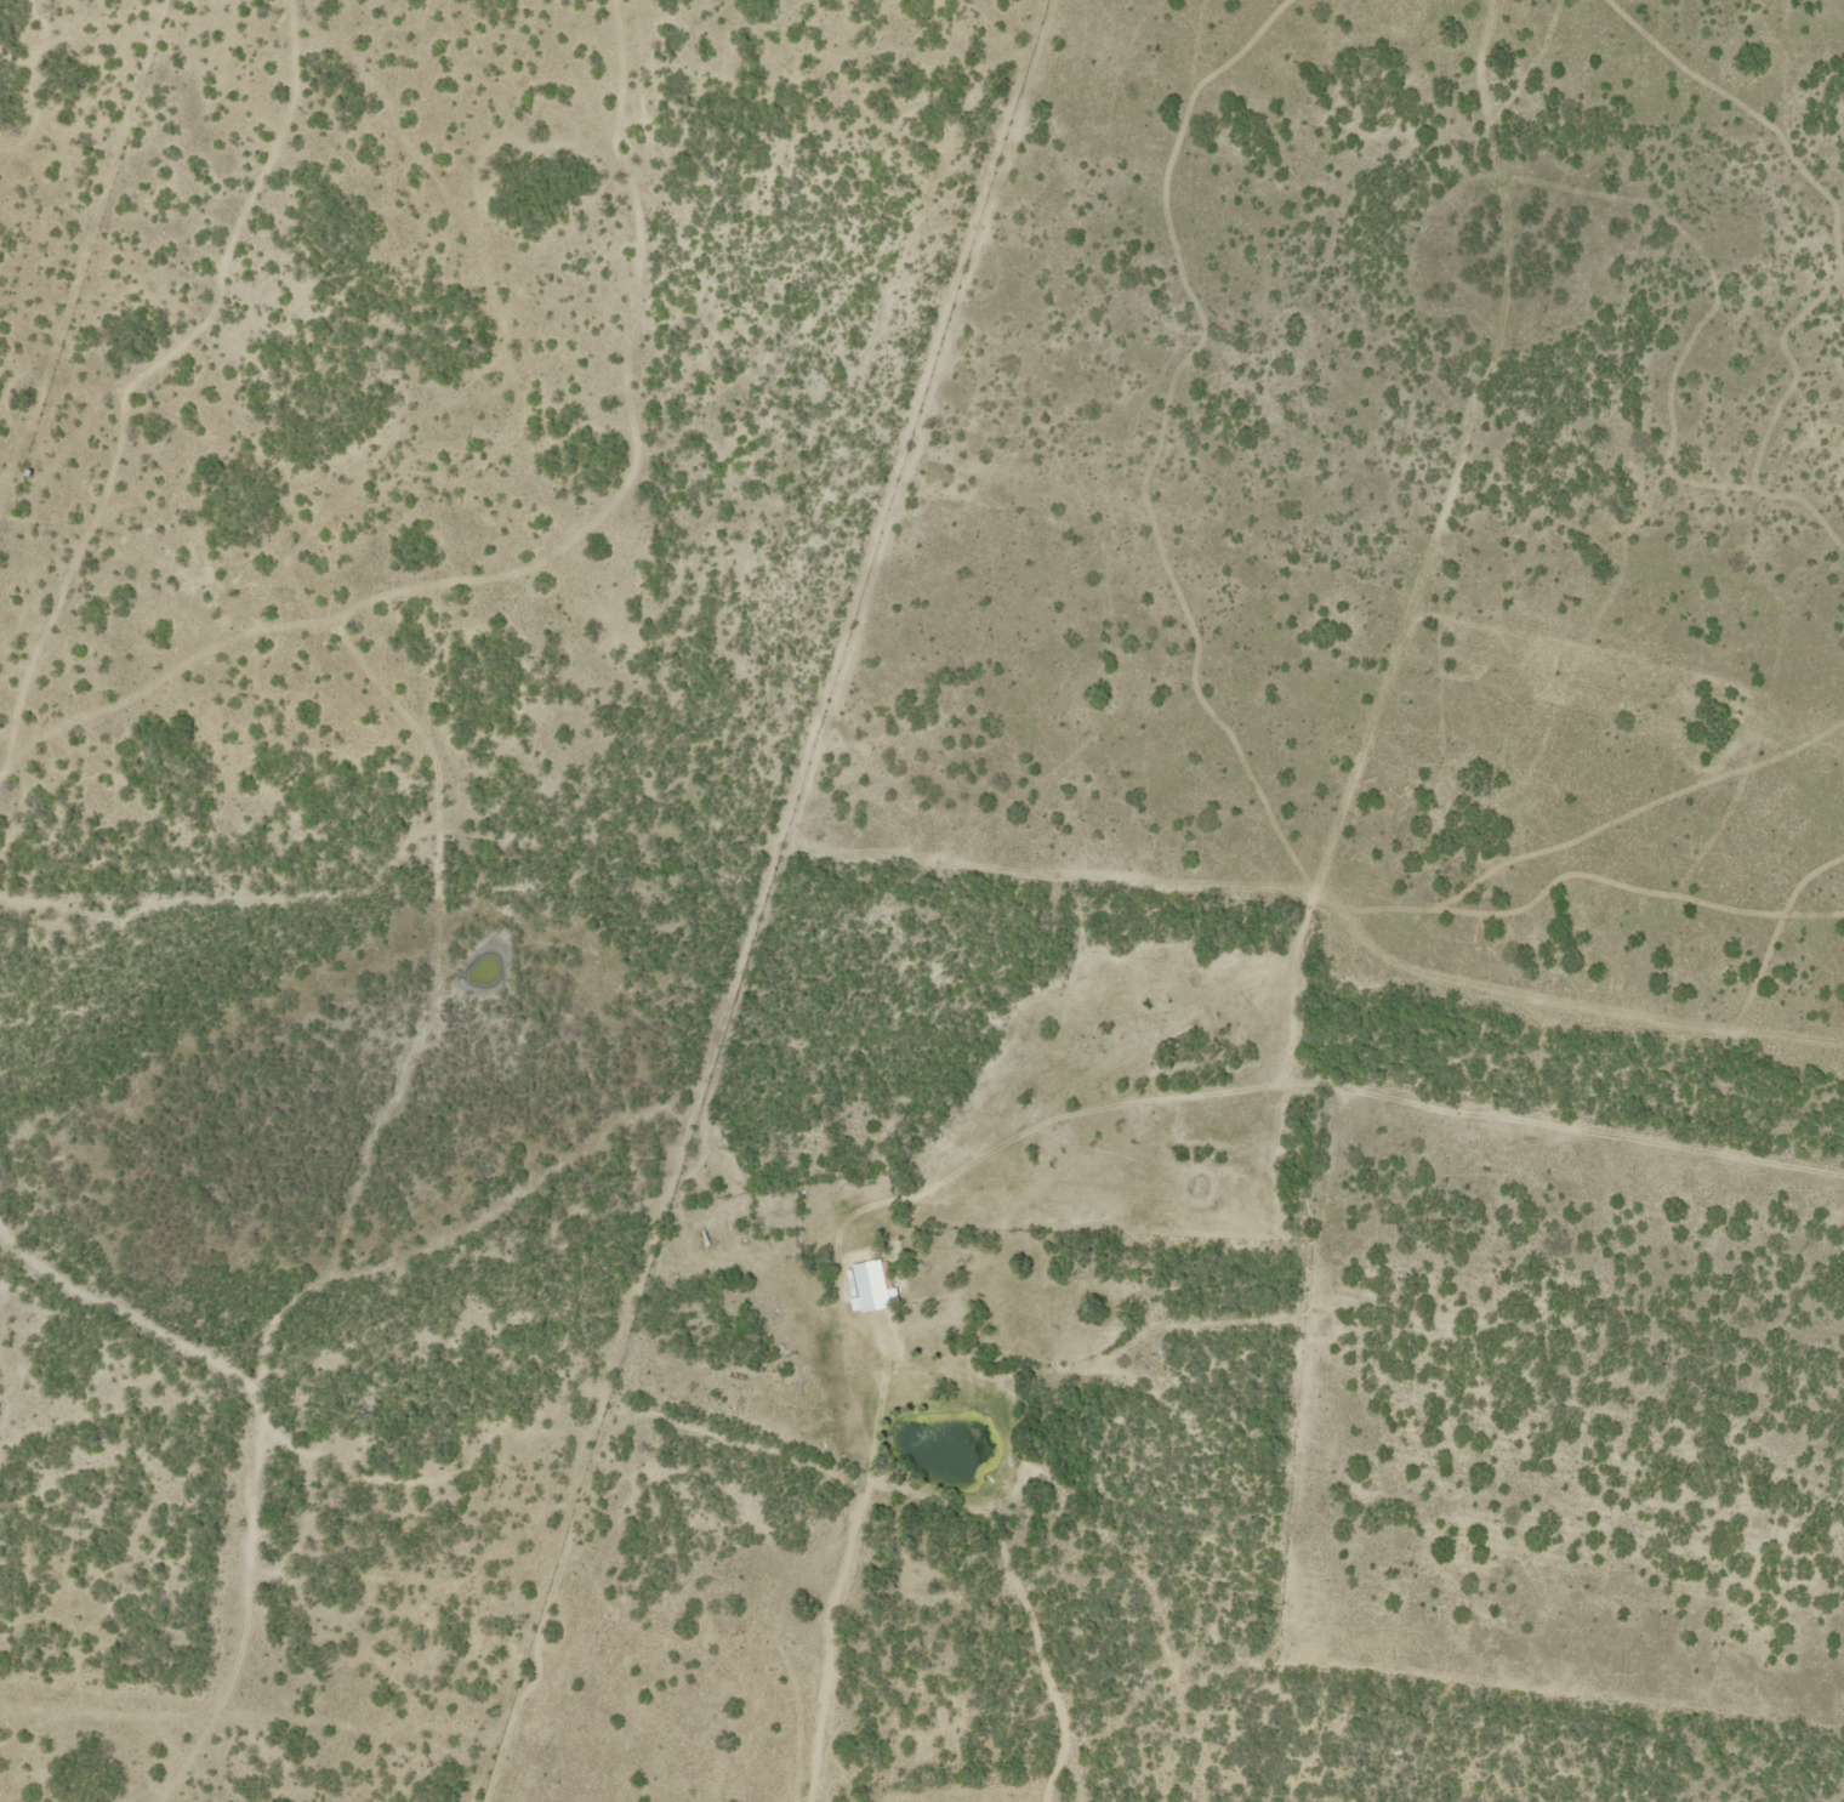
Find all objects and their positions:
building: (866, 1284)
road: (866, 1568)

